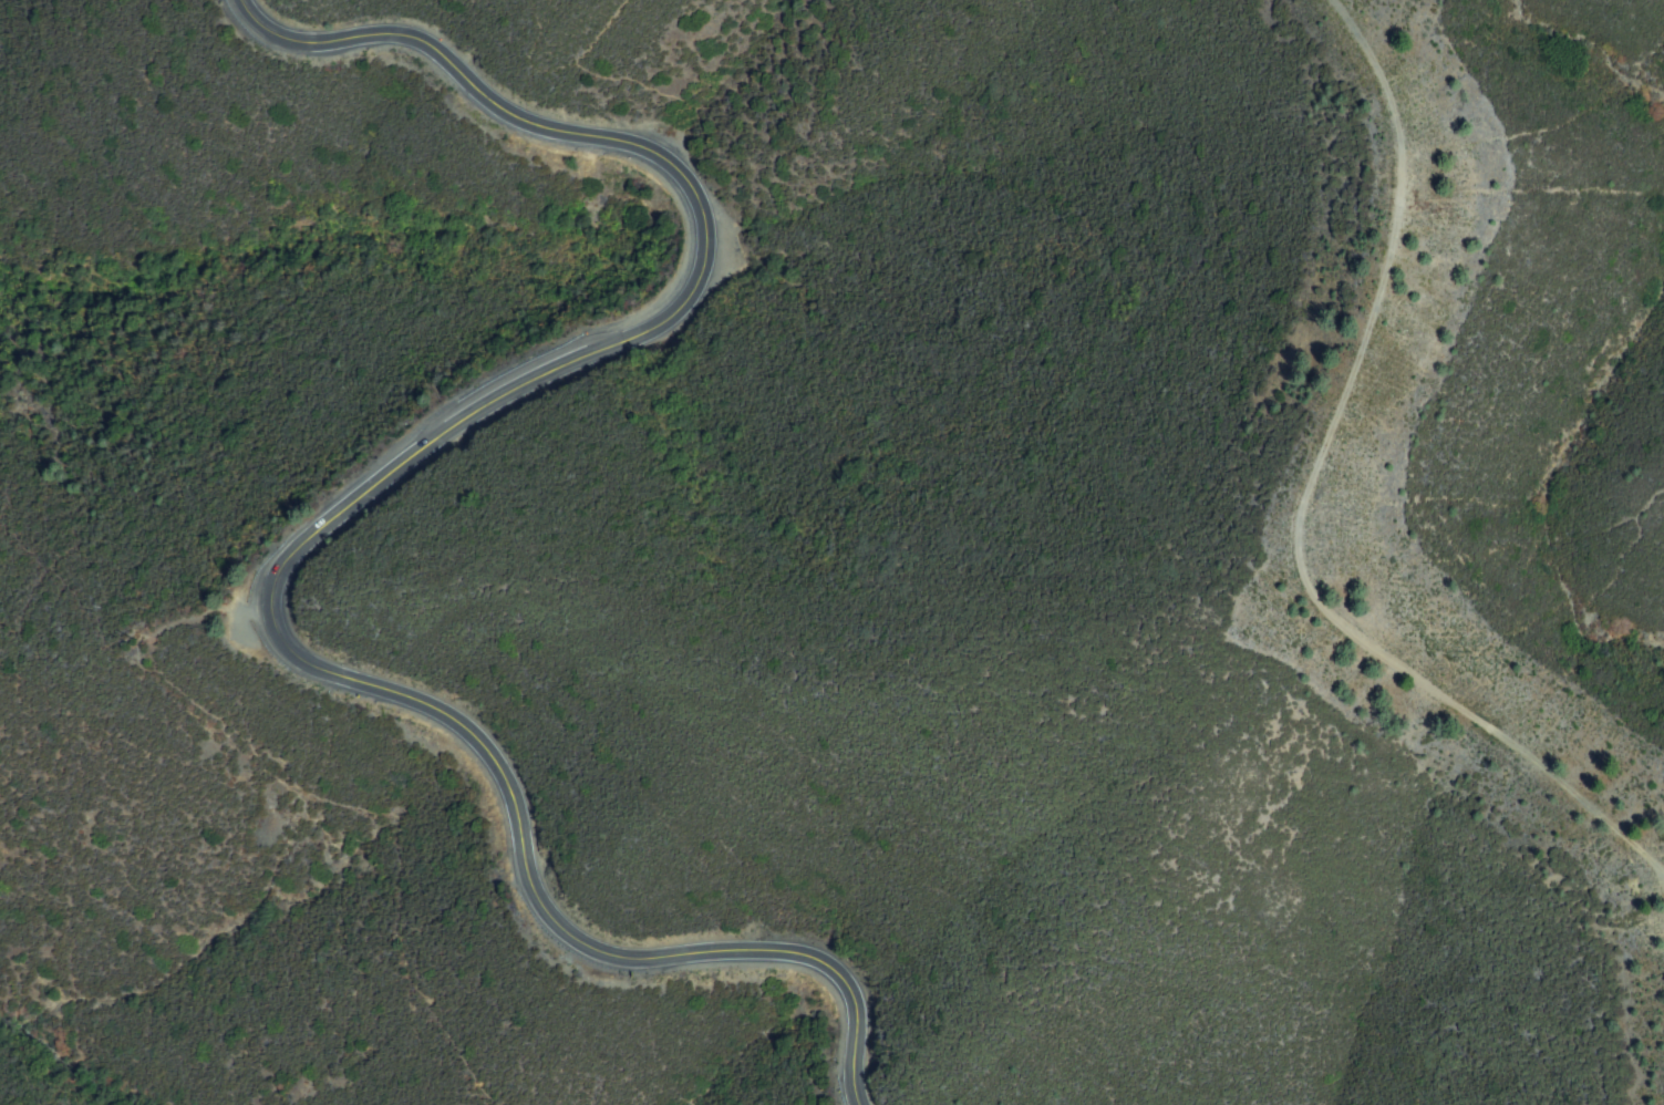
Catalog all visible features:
road: (352, 504)

